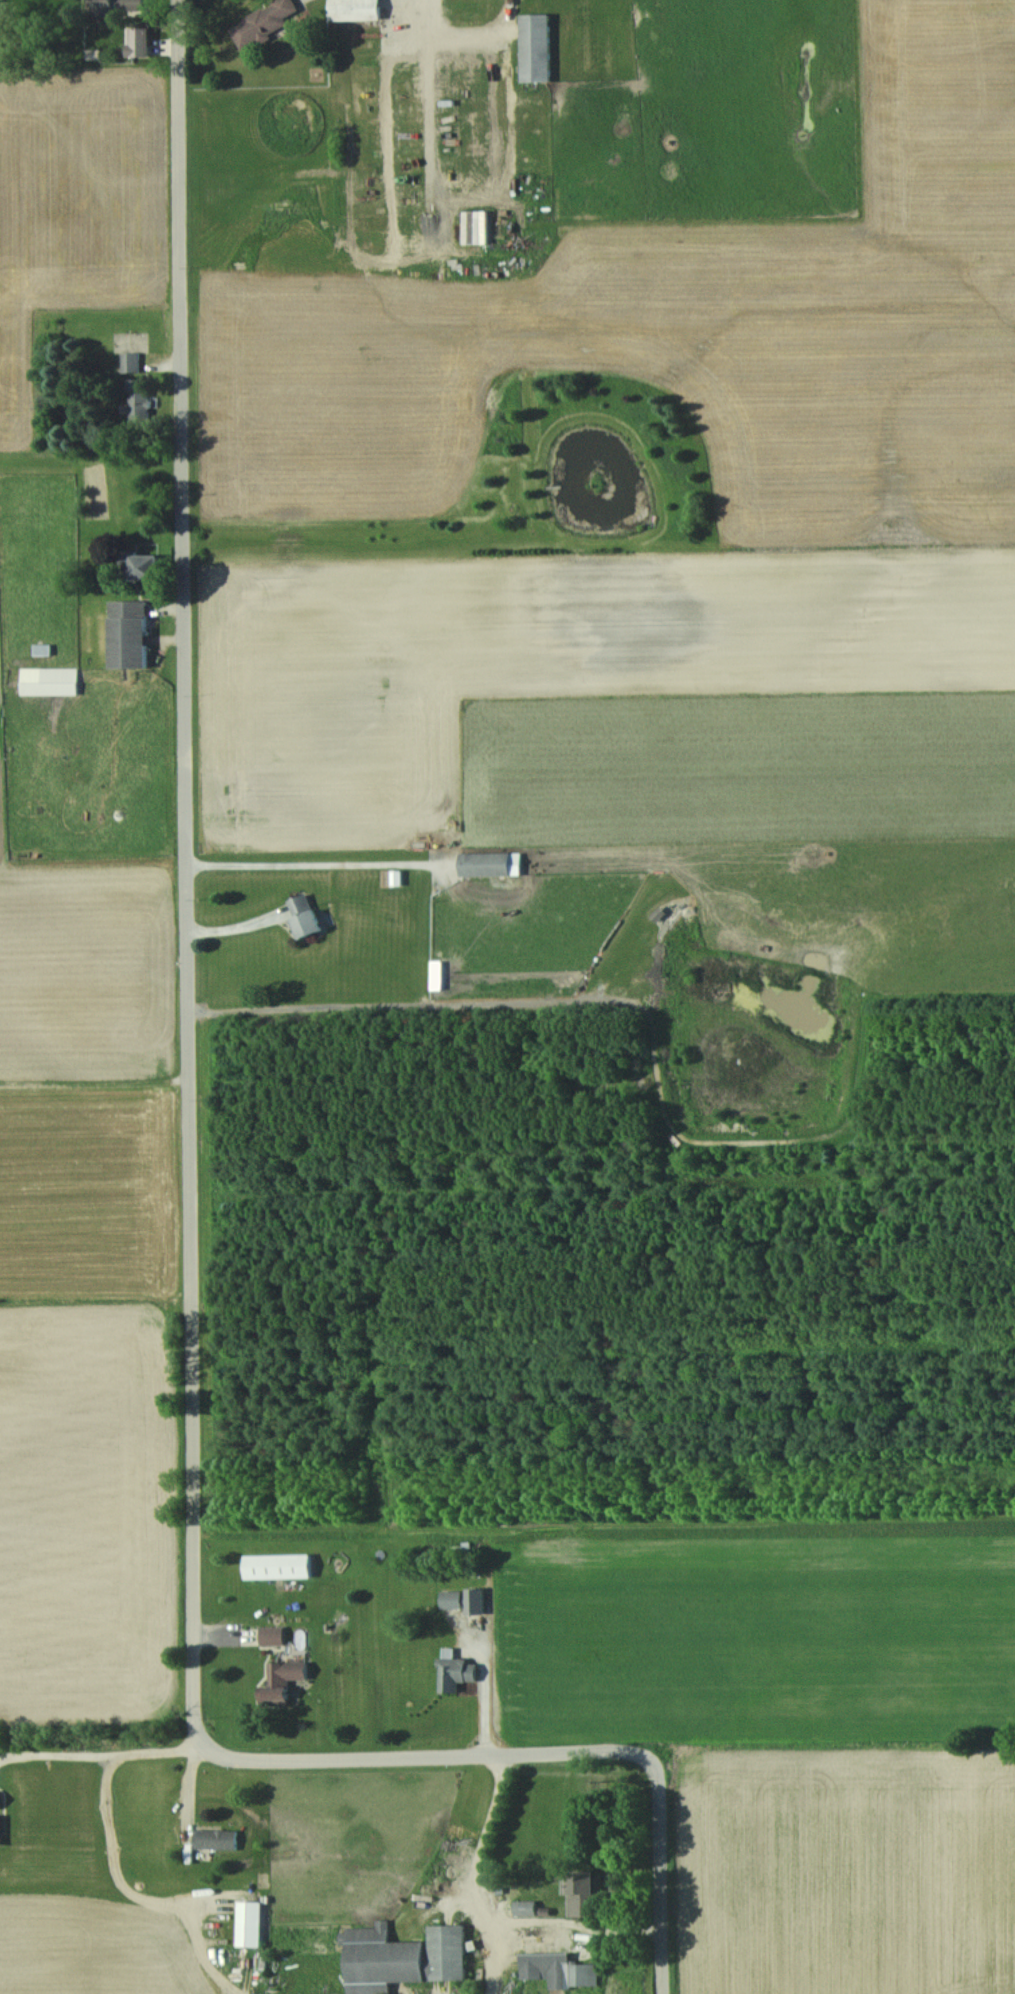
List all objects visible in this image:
building: (117, 4)
building: (354, 9)
building: (263, 22)
road: (465, 33)
building: (138, 41)
building: (536, 47)
road: (428, 111)
building: (475, 226)
building: (130, 361)
building: (138, 398)
building: (145, 566)
building: (129, 633)
building: (49, 680)
road: (302, 863)
building: (490, 863)
building: (305, 914)
road: (238, 918)
road: (490, 1003)
road: (188, 1220)
building: (278, 1565)
building: (452, 1598)
building: (474, 1600)
building: (272, 1635)
building: (454, 1671)
building: (284, 1679)
road: (100, 1748)
building: (1, 1829)
building: (215, 1838)
road: (473, 1875)
road: (131, 1892)
building: (579, 1892)
building: (524, 1907)
building: (249, 1923)
building: (402, 1956)
building: (558, 1969)

